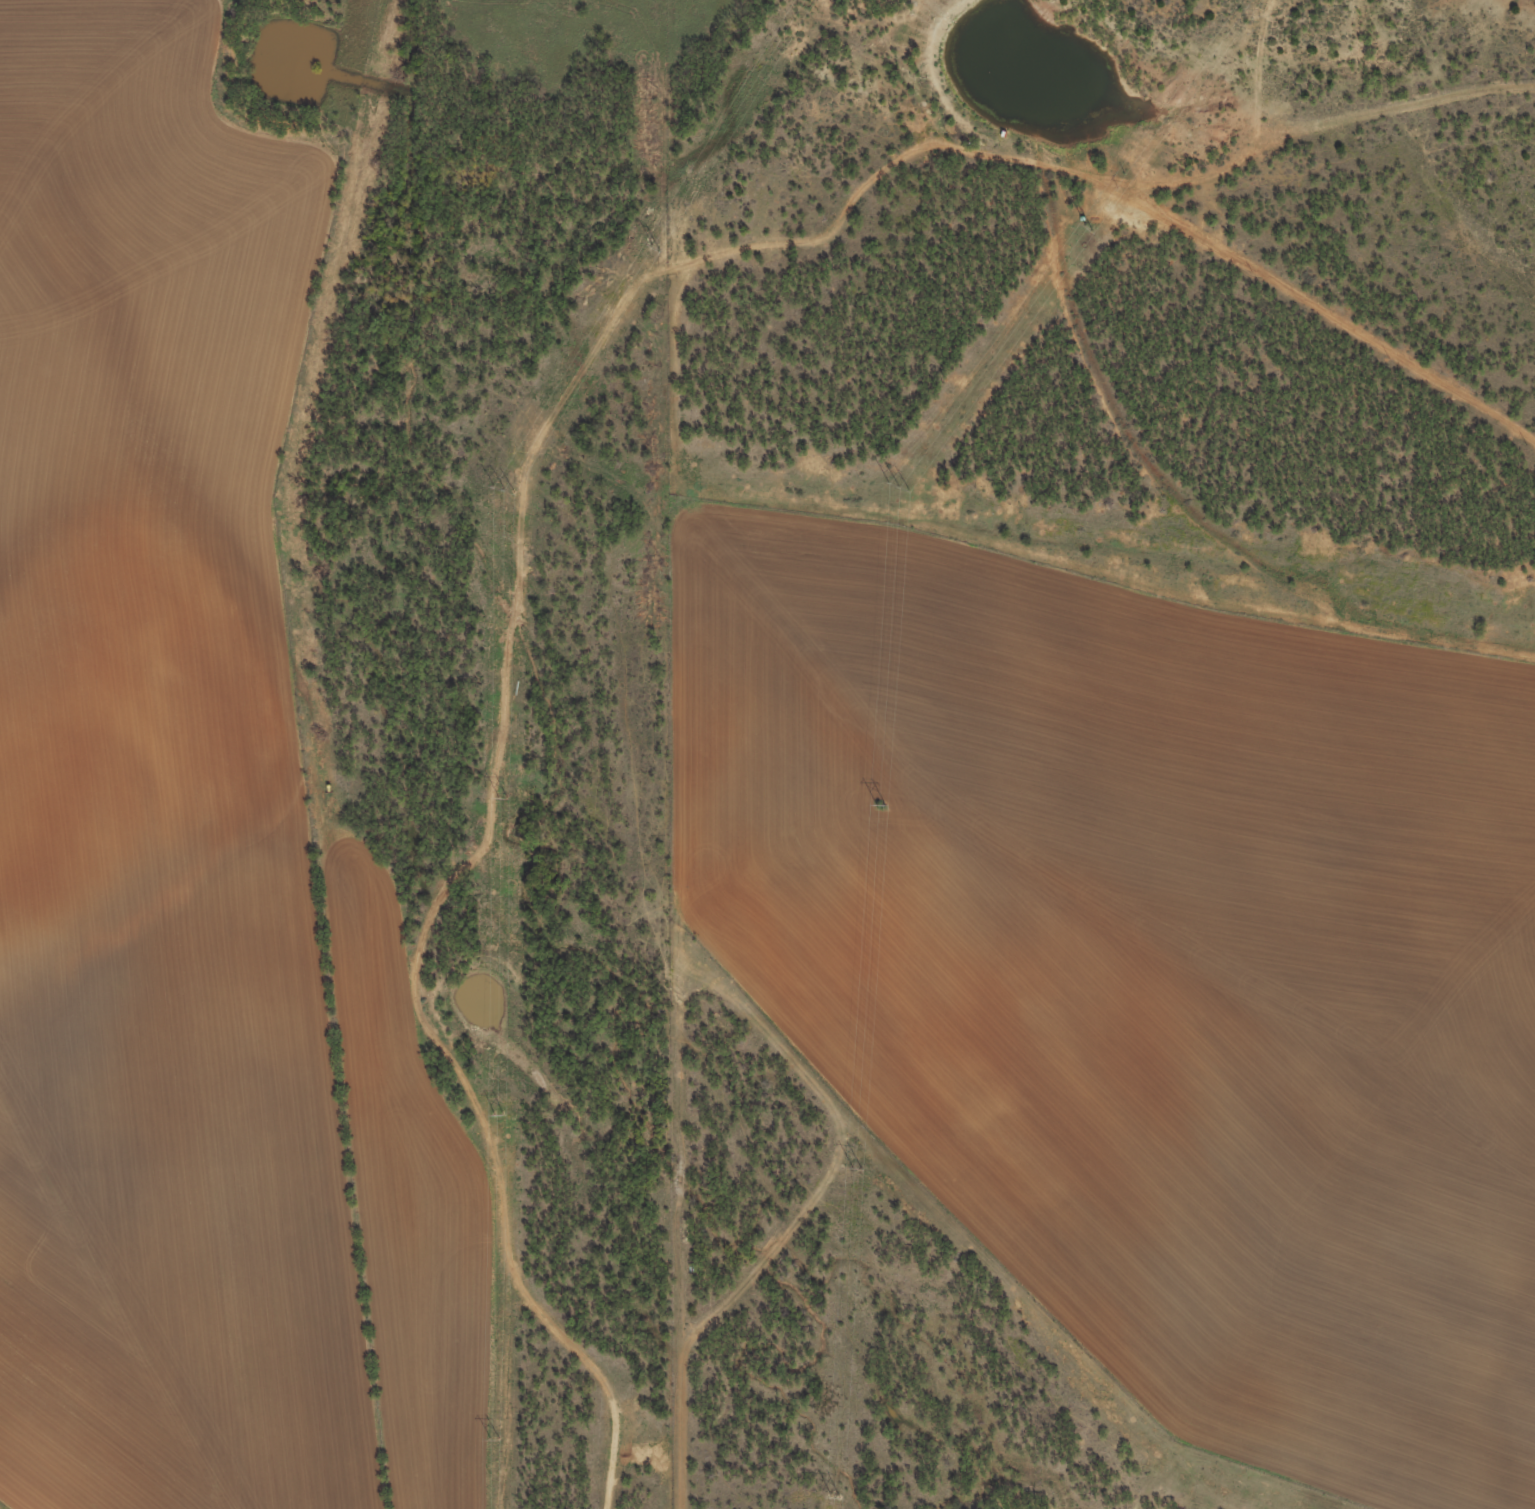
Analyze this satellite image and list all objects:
power tower: (1087, 227)
power tower: (653, 247)
power tower: (897, 485)
power tower: (502, 488)
power tower: (500, 796)
power tower: (879, 805)
power tower: (496, 1114)
power tower: (854, 1168)
power tower: (491, 1438)
power tower: (832, 1497)

